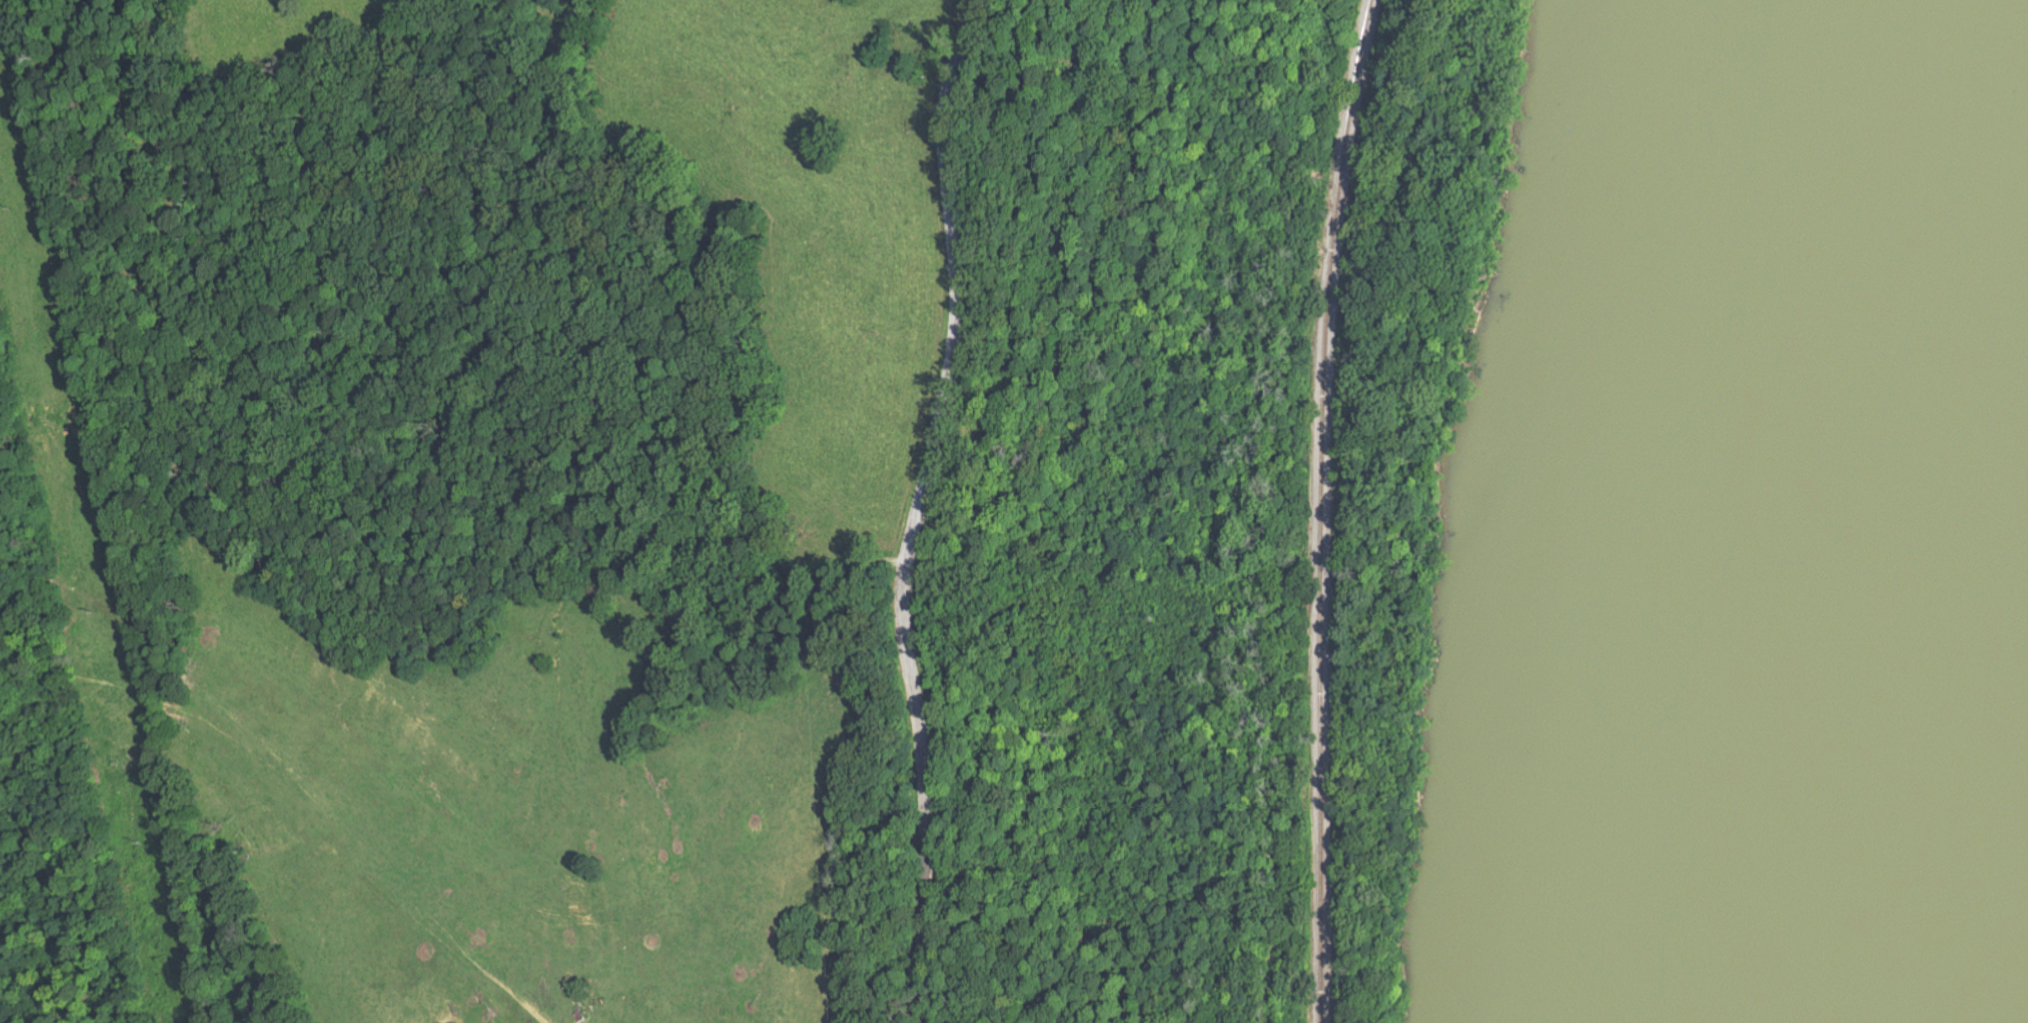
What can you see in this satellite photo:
road: (926, 506)
river: (1881, 506)
railway: (1286, 509)

